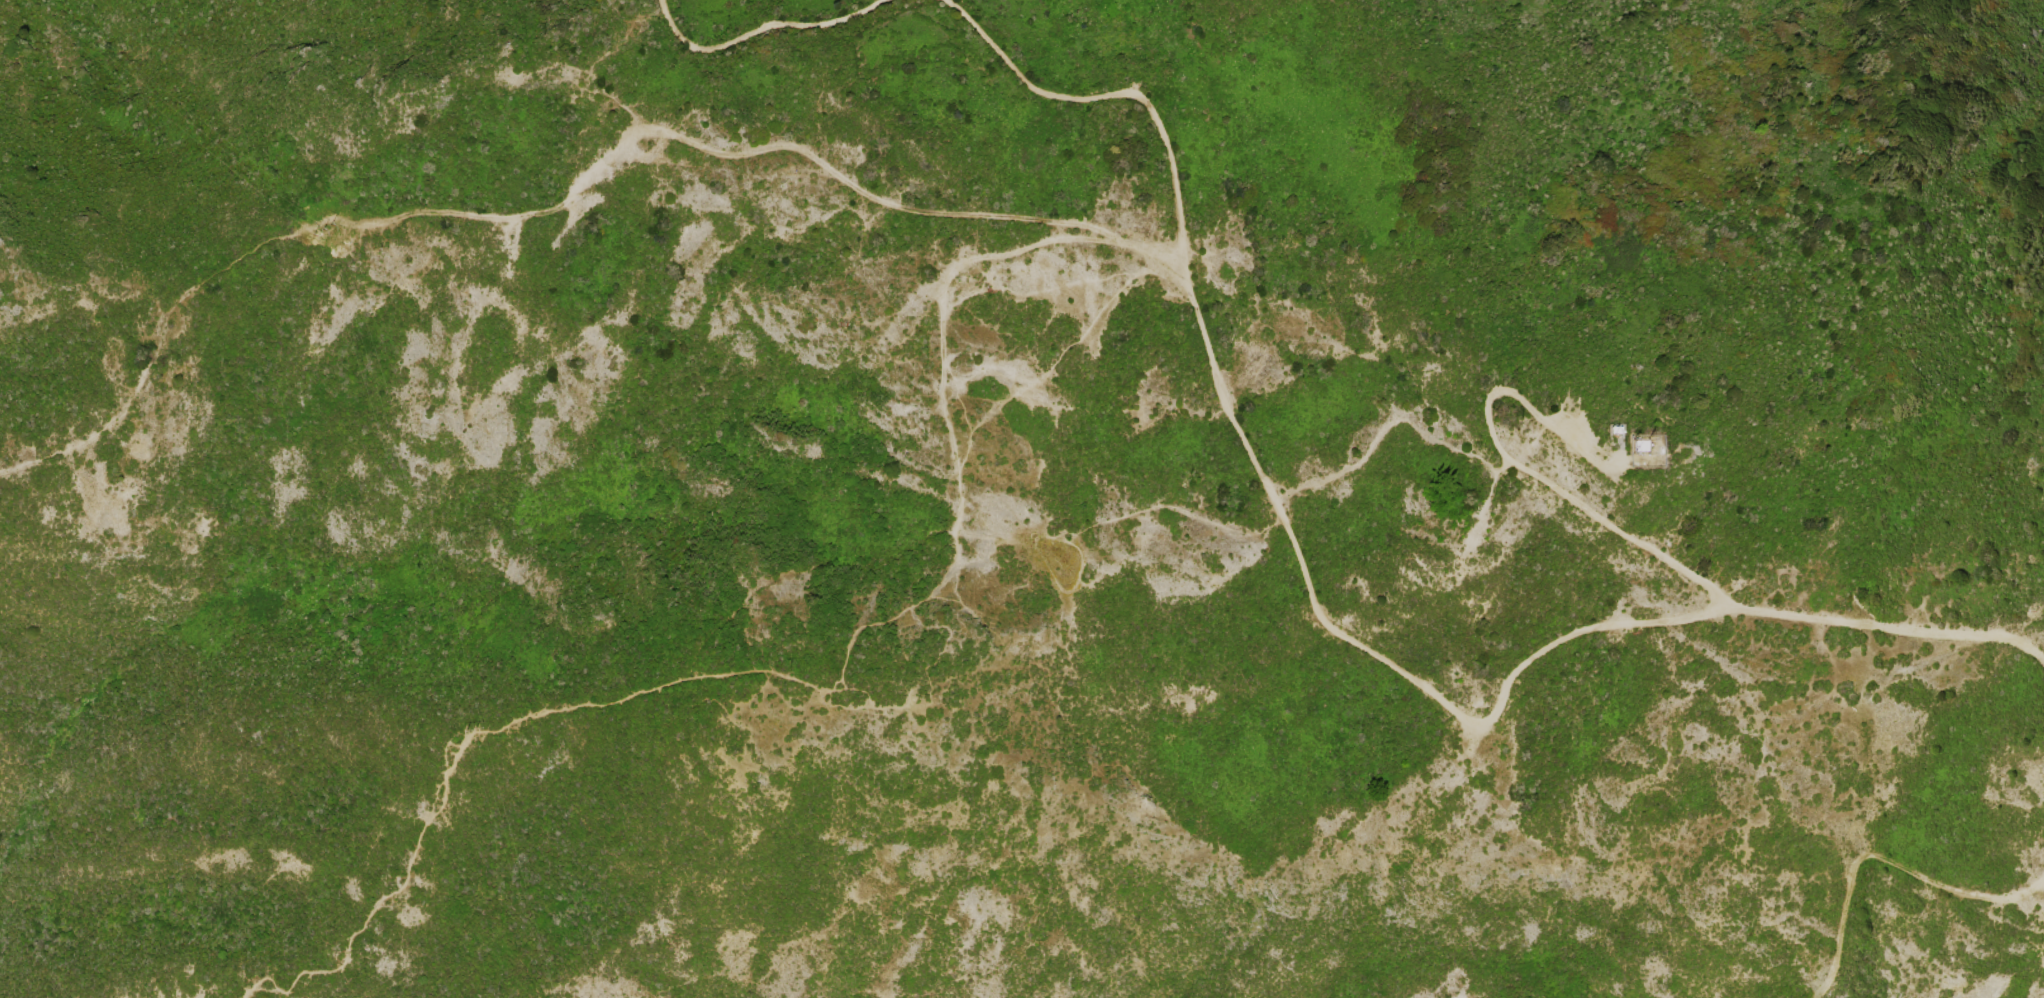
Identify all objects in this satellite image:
road: (759, 29)
road: (602, 91)
road: (895, 200)
road: (288, 231)
road: (941, 316)
road: (1387, 425)
road: (1557, 488)
road: (1479, 514)
road: (1327, 621)
road: (759, 669)
road: (869, 701)
park: (847, 740)
road: (1881, 856)

